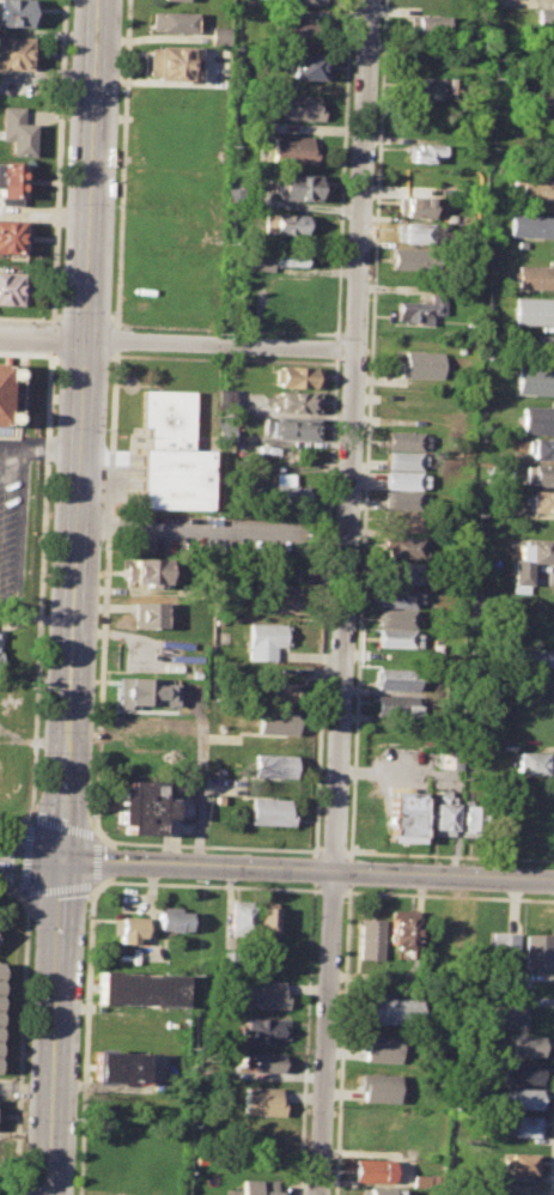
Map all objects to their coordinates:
building: (175, 0)
road: (544, 0)
building: (305, 2)
building: (17, 13)
building: (543, 18)
building: (171, 22)
building: (427, 26)
building: (297, 31)
building: (217, 35)
building: (18, 51)
building: (170, 62)
building: (305, 65)
street lamp: (67, 89)
building: (430, 89)
street lamp: (118, 92)
building: (297, 107)
building: (546, 108)
building: (14, 131)
building: (170, 138)
building: (292, 150)
building: (422, 154)
road: (57, 162)
road: (121, 163)
road: (342, 169)
road: (89, 170)
building: (10, 184)
building: (298, 186)
building: (532, 186)
street lamp: (62, 205)
building: (415, 207)
street lamp: (114, 208)
building: (284, 224)
building: (528, 225)
building: (413, 232)
building: (12, 236)
building: (290, 256)
building: (258, 260)
building: (408, 260)
building: (534, 278)
building: (7, 287)
building: (419, 309)
building: (531, 310)
street lamp: (57, 313)
street lamp: (109, 314)
street lamp: (121, 328)
road: (225, 329)
road: (41, 338)
road: (50, 338)
road: (114, 339)
road: (217, 345)
building: (543, 345)
road: (335, 347)
road: (224, 360)
building: (420, 365)
building: (297, 377)
building: (535, 381)
building: (6, 399)
building: (296, 402)
building: (536, 419)
building: (291, 429)
road: (367, 429)
street lamp: (54, 430)
street lamp: (104, 432)
flagpole: (129, 438)
building: (404, 441)
road: (11, 445)
road: (50, 448)
building: (541, 448)
building: (170, 454)
building: (402, 460)
building: (537, 475)
road: (106, 477)
building: (402, 480)
building: (287, 493)
building: (402, 501)
building: (537, 501)
parking lot: (12, 515)
building: (404, 522)
road: (18, 528)
street lamp: (49, 539)
building: (398, 546)
street lamp: (101, 550)
building: (530, 559)
building: (145, 572)
building: (401, 572)
road: (104, 592)
road: (342, 596)
building: (398, 597)
road: (39, 599)
road: (71, 600)
building: (279, 602)
road: (325, 606)
building: (148, 614)
building: (396, 619)
building: (397, 638)
building: (266, 639)
street lamp: (44, 643)
street lamp: (97, 651)
building: (535, 657)
building: (392, 679)
building: (145, 692)
building: (278, 693)
building: (394, 705)
building: (278, 721)
street lamp: (93, 730)
street lamp: (41, 733)
building: (448, 759)
building: (531, 763)
building: (273, 765)
road: (199, 801)
street lamp: (36, 802)
building: (140, 806)
building: (269, 812)
building: (444, 814)
road: (29, 817)
building: (407, 817)
street lamp: (90, 818)
building: (468, 818)
building: (367, 827)
road: (28, 835)
road: (206, 847)
street lamp: (133, 848)
road: (333, 851)
road: (450, 856)
road: (30, 860)
traffic signals: (61, 861)
road: (315, 868)
road: (308, 871)
road: (351, 872)
road: (97, 886)
road: (331, 891)
road: (12, 893)
road: (448, 896)
street lamp: (86, 912)
building: (238, 917)
building: (171, 920)
building: (264, 921)
road: (90, 928)
building: (130, 929)
building: (401, 929)
street lamp: (32, 932)
building: (370, 939)
building: (505, 952)
building: (538, 952)
building: (227, 960)
building: (262, 964)
building: (136, 988)
building: (268, 995)
street lamp: (29, 1001)
street lamp: (81, 1001)
building: (389, 1012)
building: (504, 1017)
road: (54, 1027)
building: (263, 1029)
road: (306, 1038)
road: (342, 1039)
road: (22, 1045)
building: (379, 1047)
building: (525, 1047)
building: (263, 1062)
building: (116, 1067)
building: (519, 1072)
building: (379, 1087)
road: (25, 1090)
building: (523, 1099)
building: (263, 1100)
street lamp: (25, 1118)
street lamp: (77, 1121)
building: (522, 1126)
road: (552, 1154)
building: (522, 1164)
building: (375, 1171)
building: (421, 1181)
building: (260, 1187)
building: (520, 1189)
building: (382, 1191)

